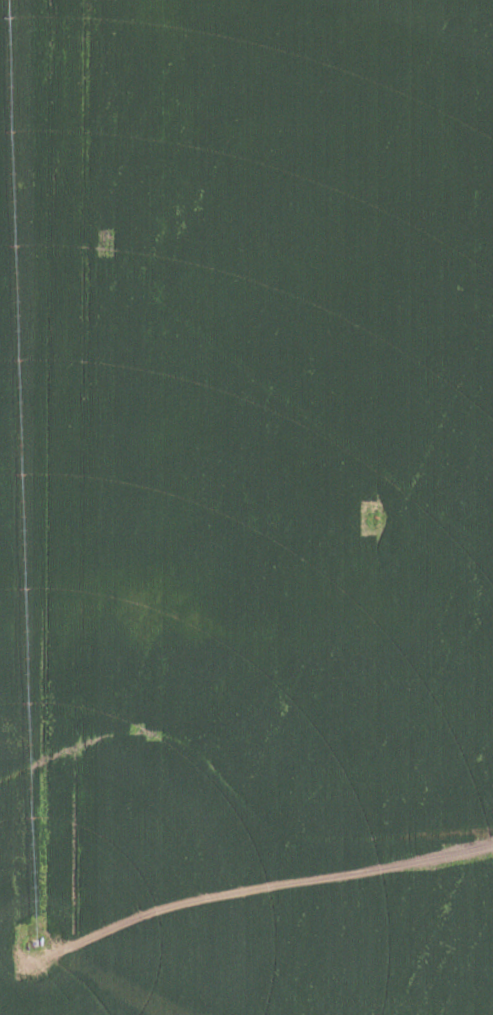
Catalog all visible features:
road: (272, 542)

